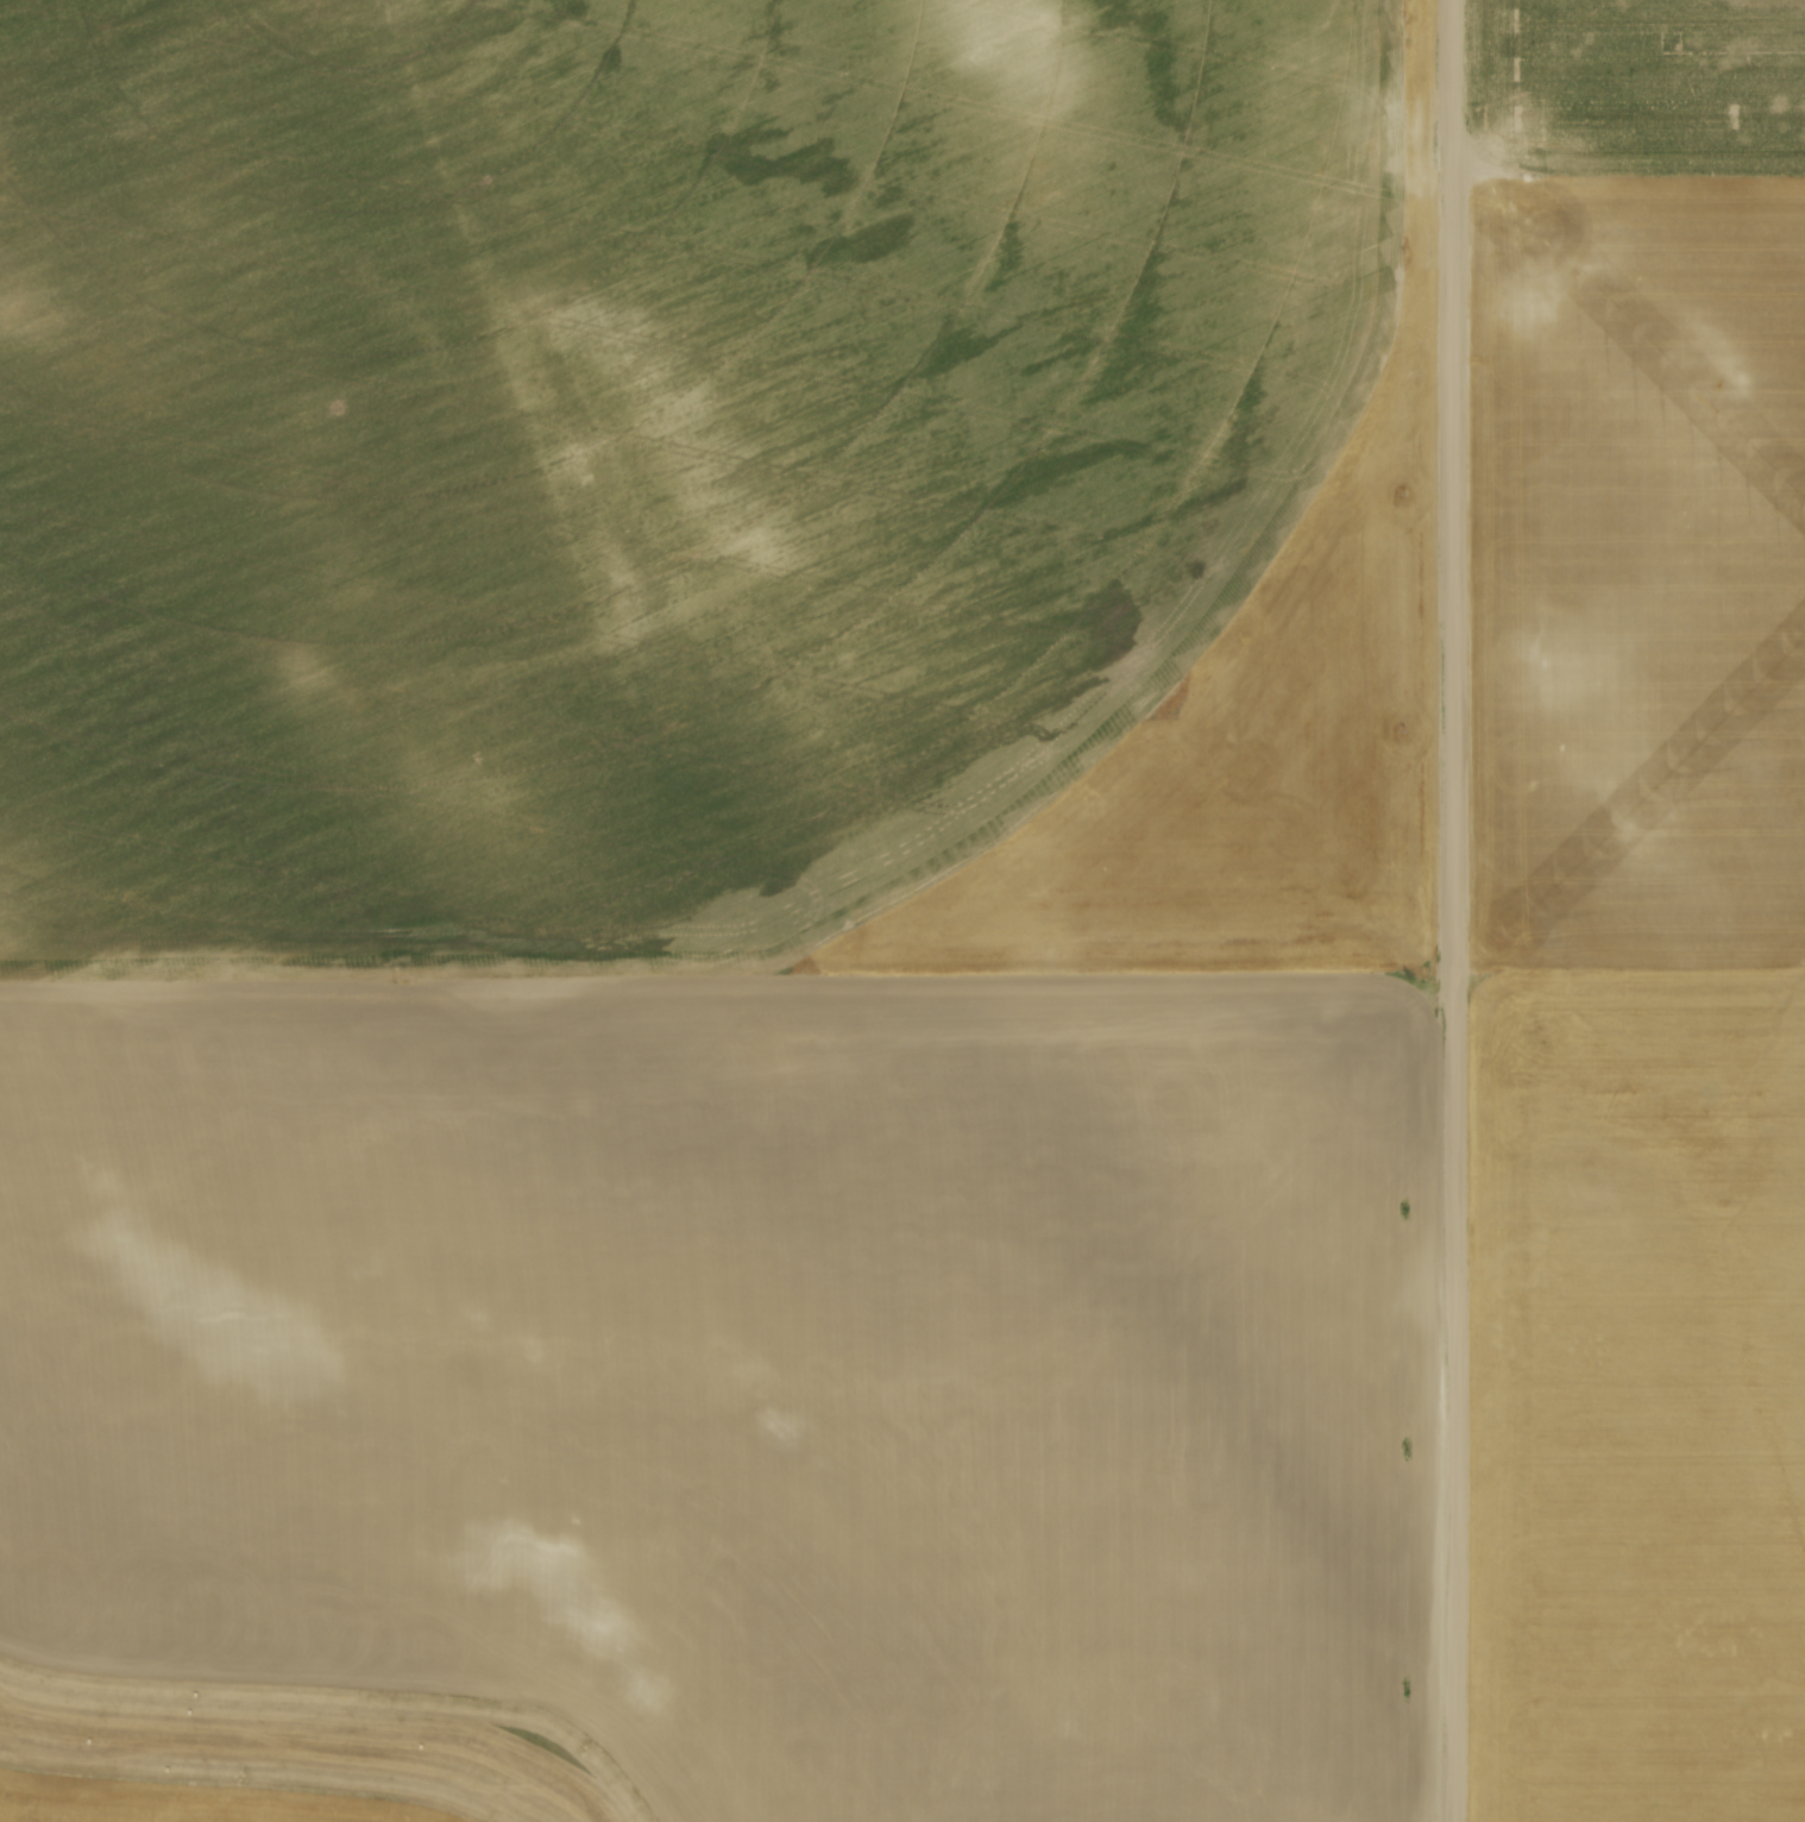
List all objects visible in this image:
crop: (729, 882)
road: (1457, 910)
crop: (1641, 910)
crop: (189, 1801)

